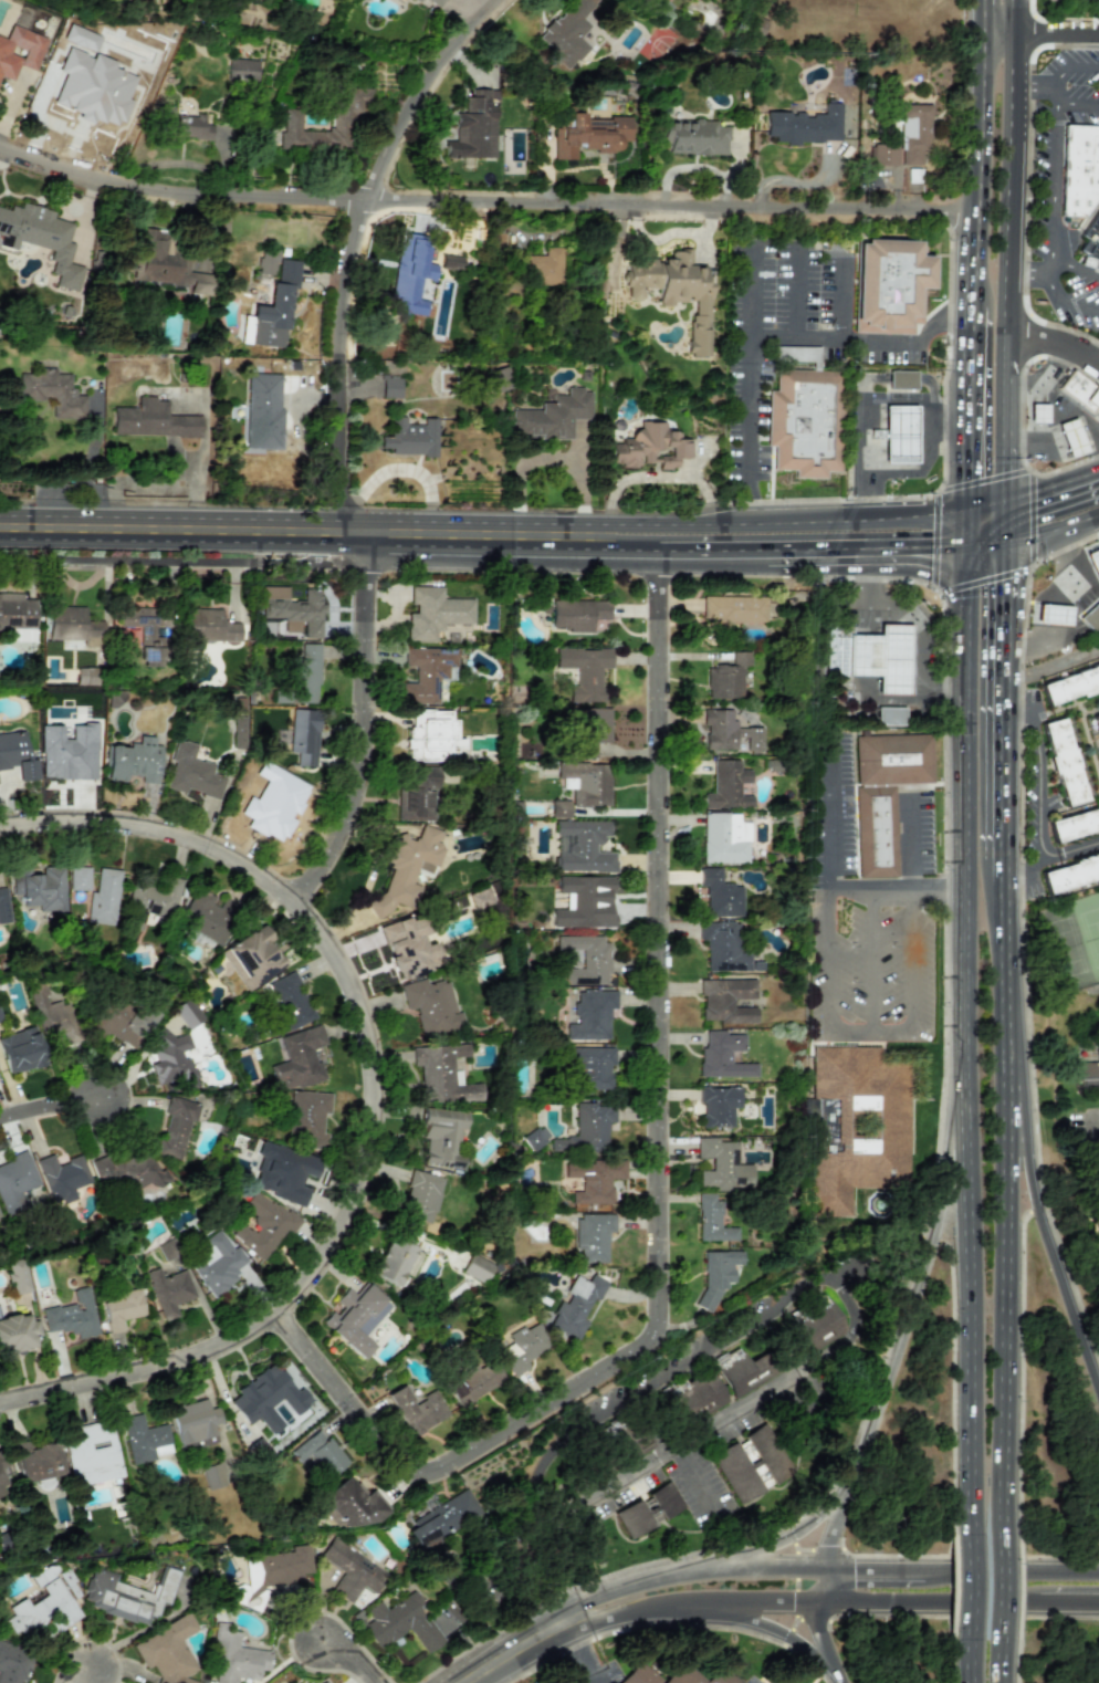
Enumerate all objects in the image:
building: (416, 0)
building: (437, 2)
road: (983, 15)
road: (1011, 15)
road: (1057, 19)
building: (566, 31)
road: (996, 32)
road: (1055, 32)
building: (19, 51)
power tower: (719, 52)
road: (1011, 59)
road: (1070, 67)
building: (241, 70)
road: (1030, 86)
road: (1070, 103)
road: (982, 121)
building: (289, 123)
building: (805, 125)
building: (189, 126)
building: (473, 126)
building: (912, 133)
building: (588, 135)
building: (693, 136)
building: (883, 153)
building: (1079, 169)
road: (1050, 174)
road: (485, 199)
road: (1007, 223)
building: (41, 238)
building: (1090, 243)
road: (358, 247)
road: (975, 260)
building: (266, 261)
building: (450, 261)
building: (166, 264)
building: (543, 266)
road: (1050, 266)
road: (1075, 266)
road: (1028, 272)
building: (410, 275)
building: (889, 285)
road: (1049, 285)
road: (797, 288)
building: (674, 291)
road: (840, 297)
road: (1075, 304)
building: (271, 310)
road: (773, 332)
road: (817, 334)
road: (1055, 339)
road: (909, 345)
road: (1056, 363)
road: (749, 375)
building: (900, 378)
building: (498, 379)
road: (1038, 381)
building: (390, 387)
building: (52, 393)
building: (1081, 393)
road: (1009, 400)
road: (861, 407)
building: (263, 411)
building: (1036, 411)
road: (1022, 414)
building: (553, 416)
road: (1056, 416)
building: (151, 420)
building: (805, 421)
road: (970, 427)
building: (899, 436)
building: (410, 438)
building: (1070, 438)
building: (650, 447)
road: (942, 452)
road: (923, 468)
road: (1029, 471)
road: (1011, 488)
road: (1048, 499)
road: (742, 503)
road: (745, 513)
road: (775, 523)
road: (1081, 524)
road: (290, 534)
road: (1038, 539)
road: (988, 540)
road: (630, 552)
road: (724, 553)
road: (867, 555)
road: (1079, 560)
building: (1093, 561)
road: (1012, 567)
road: (1096, 588)
road: (1086, 598)
building: (733, 607)
building: (293, 609)
building: (17, 611)
building: (435, 613)
building: (577, 614)
building: (1051, 615)
building: (1091, 618)
road: (914, 619)
road: (1011, 621)
building: (72, 624)
building: (210, 627)
building: (146, 631)
road: (1054, 636)
building: (871, 656)
road: (1055, 667)
building: (584, 671)
building: (307, 673)
building: (426, 673)
building: (87, 676)
building: (728, 677)
building: (1070, 684)
road: (901, 702)
building: (890, 715)
building: (1097, 722)
road: (370, 723)
building: (592, 730)
building: (728, 732)
building: (239, 733)
building: (432, 735)
building: (304, 736)
building: (69, 752)
road: (1009, 752)
building: (17, 755)
building: (133, 761)
building: (1061, 761)
building: (192, 773)
road: (1039, 774)
building: (586, 783)
building: (728, 786)
building: (883, 793)
building: (417, 794)
building: (279, 799)
building: (559, 809)
road: (827, 816)
building: (1074, 824)
building: (724, 838)
building: (582, 846)
road: (1077, 848)
road: (1048, 857)
building: (406, 869)
road: (1009, 870)
road: (1028, 871)
building: (1071, 872)
building: (78, 878)
building: (39, 887)
road: (920, 892)
road: (850, 893)
building: (720, 895)
road: (819, 895)
building: (103, 897)
building: (479, 898)
building: (149, 900)
building: (585, 902)
building: (3, 907)
building: (207, 916)
road: (1021, 930)
road: (913, 934)
road: (664, 942)
building: (408, 947)
building: (723, 947)
building: (252, 958)
building: (587, 959)
road: (873, 963)
road: (1008, 983)
road: (827, 986)
building: (726, 1000)
building: (431, 1005)
building: (187, 1013)
building: (52, 1015)
building: (592, 1015)
building: (0, 1017)
building: (122, 1020)
road: (966, 1039)
building: (20, 1050)
building: (723, 1056)
building: (299, 1058)
building: (171, 1059)
building: (590, 1068)
road: (944, 1069)
building: (442, 1074)
building: (1088, 1075)
road: (383, 1094)
road: (1007, 1094)
road: (48, 1100)
building: (718, 1105)
building: (308, 1116)
building: (857, 1125)
building: (176, 1127)
building: (587, 1129)
building: (441, 1137)
building: (535, 1138)
building: (722, 1165)
building: (128, 1169)
building: (283, 1173)
building: (62, 1177)
building: (594, 1180)
building: (15, 1182)
building: (421, 1195)
building: (712, 1220)
building: (263, 1225)
building: (593, 1237)
road: (1053, 1241)
building: (167, 1248)
building: (391, 1261)
building: (218, 1264)
building: (477, 1268)
building: (716, 1274)
building: (18, 1276)
building: (169, 1290)
building: (576, 1305)
building: (122, 1308)
building: (72, 1316)
building: (356, 1317)
road: (1001, 1321)
building: (817, 1325)
building: (17, 1334)
building: (522, 1348)
road: (1019, 1362)
road: (682, 1363)
road: (888, 1363)
building: (743, 1371)
road: (953, 1381)
building: (474, 1382)
building: (694, 1395)
building: (268, 1398)
building: (417, 1410)
building: (196, 1424)
road: (692, 1435)
building: (146, 1439)
building: (627, 1439)
building: (320, 1453)
building: (94, 1454)
building: (36, 1461)
road: (447, 1461)
building: (1, 1462)
building: (751, 1463)
road: (690, 1471)
building: (213, 1476)
building: (2, 1485)
building: (349, 1505)
building: (648, 1509)
building: (442, 1519)
road: (794, 1533)
road: (835, 1562)
building: (352, 1570)
building: (270, 1575)
road: (551, 1578)
road: (1018, 1586)
road: (953, 1587)
road: (969, 1587)
road: (996, 1588)
road: (865, 1592)
building: (127, 1595)
building: (360, 1598)
building: (45, 1606)
road: (464, 1606)
road: (608, 1614)
road: (742, 1619)
building: (401, 1623)
road: (522, 1645)
building: (168, 1651)
road: (579, 1652)
road: (359, 1654)
building: (236, 1658)
road: (967, 1660)
road: (997, 1660)
road: (1018, 1660)
road: (953, 1661)
building: (13, 1663)
road: (88, 1674)
building: (676, 1675)
building: (322, 1682)

